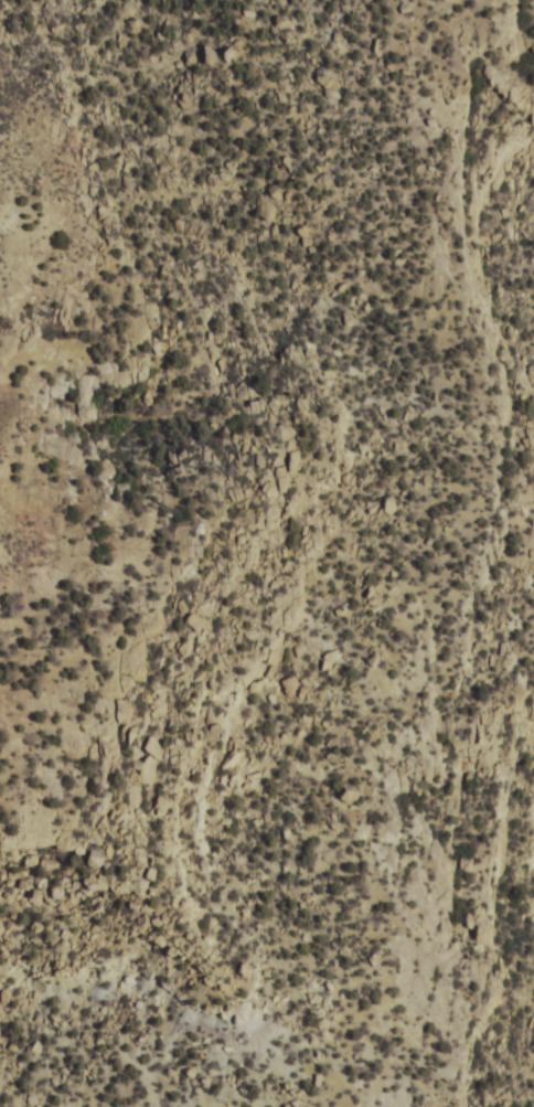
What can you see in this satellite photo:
building: (348, 795)

